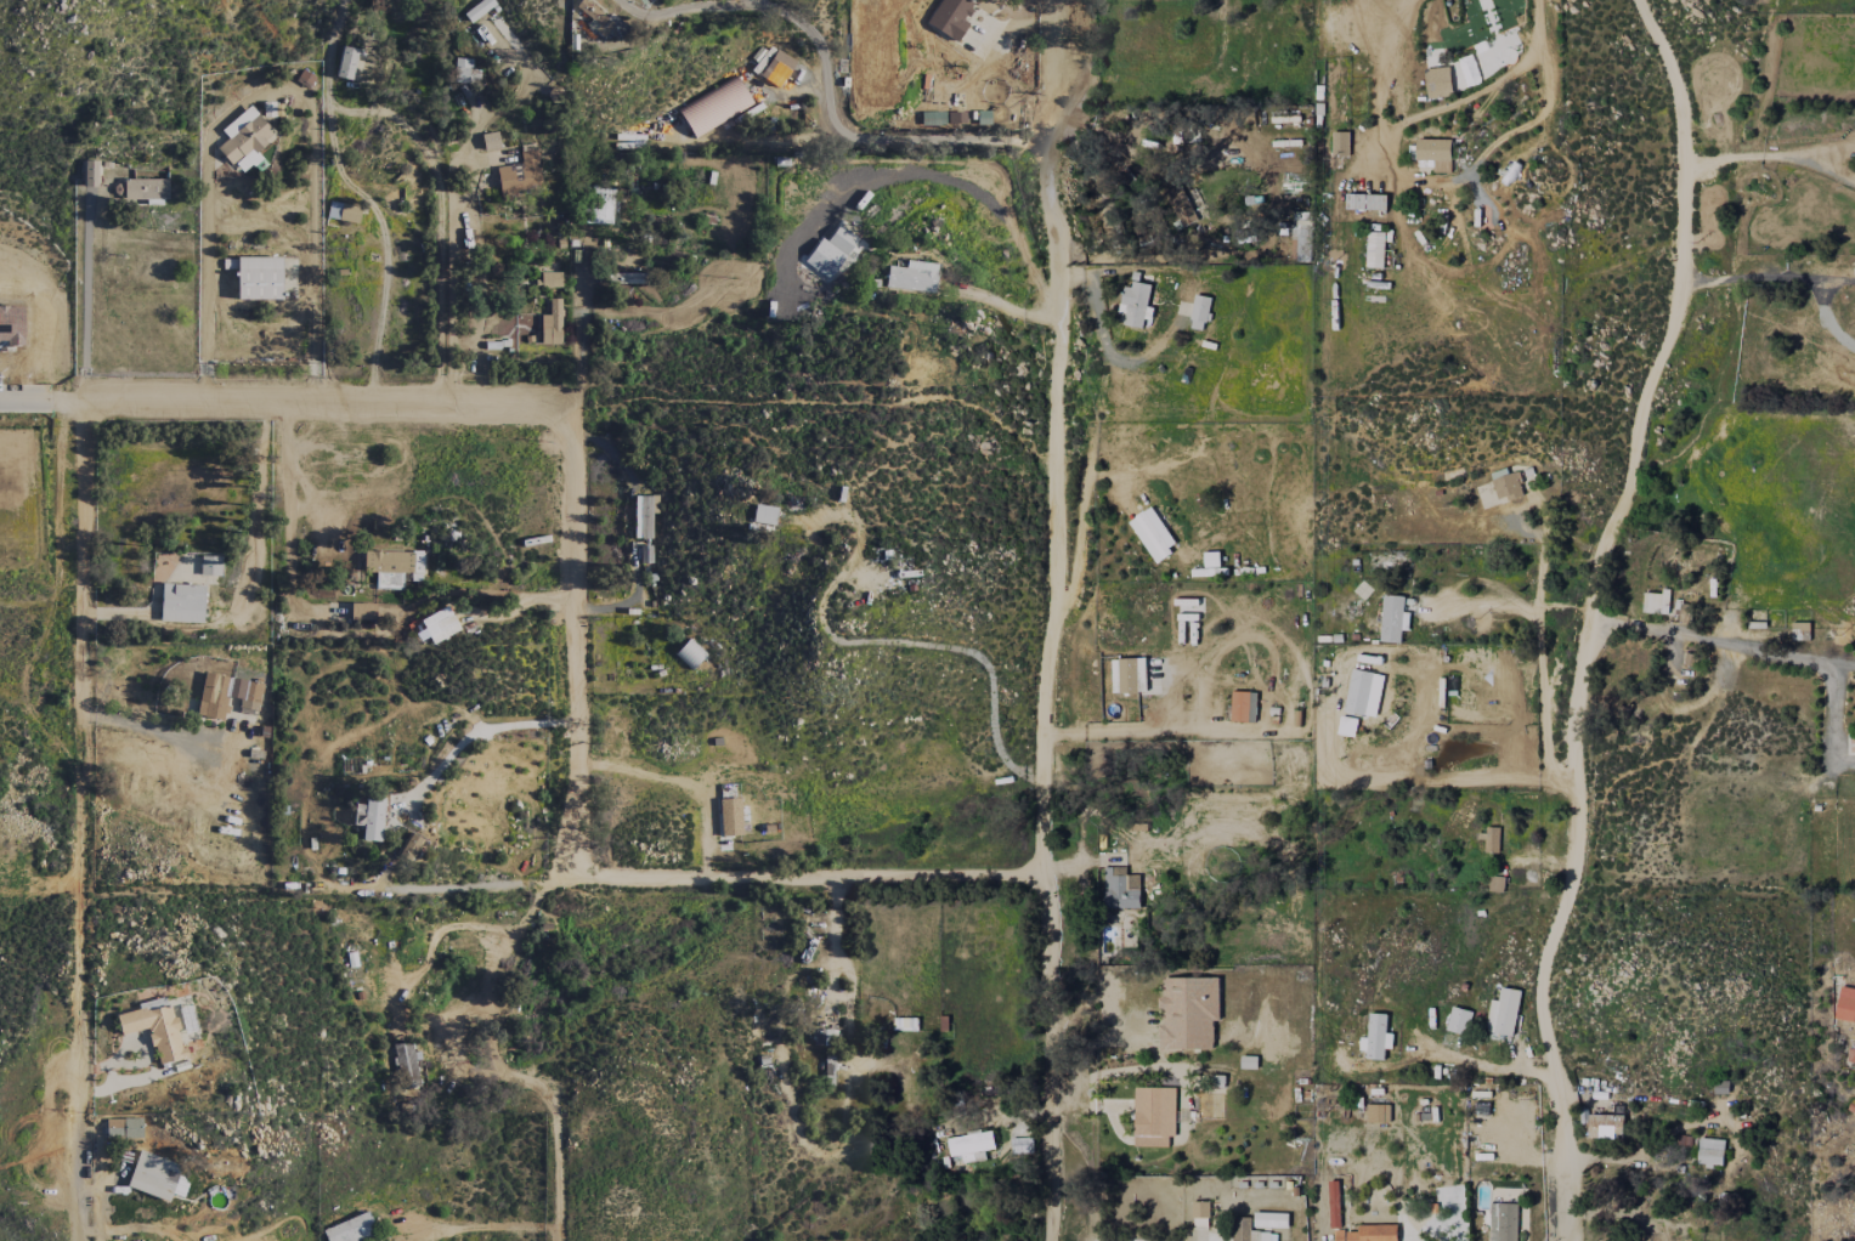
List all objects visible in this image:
building: (479, 10)
building: (950, 17)
building: (600, 19)
road: (1537, 24)
building: (346, 63)
building: (776, 68)
building: (464, 72)
building: (1437, 81)
road: (825, 83)
road: (268, 89)
building: (714, 107)
building: (932, 118)
building: (1181, 130)
building: (244, 140)
building: (1340, 143)
building: (1436, 153)
road: (1771, 154)
road: (434, 166)
building: (91, 174)
building: (520, 175)
road: (1408, 175)
building: (146, 188)
road: (980, 195)
building: (1365, 200)
building: (599, 205)
building: (1186, 205)
building: (343, 212)
building: (1299, 236)
building: (842, 239)
road: (383, 248)
building: (912, 277)
road: (1764, 277)
building: (259, 278)
building: (630, 278)
building: (550, 279)
building: (1136, 302)
road: (1007, 306)
building: (1199, 312)
building: (552, 323)
road: (878, 380)
road: (40, 401)
road: (327, 403)
building: (1506, 486)
building: (764, 515)
building: (643, 517)
road: (287, 518)
building: (1152, 533)
building: (210, 566)
building: (392, 567)
road: (511, 596)
building: (1655, 602)
building: (181, 603)
building: (362, 612)
road: (1585, 613)
road: (140, 614)
building: (1393, 617)
road: (1053, 619)
building: (440, 625)
building: (1799, 630)
road: (1703, 635)
road: (578, 645)
road: (941, 646)
road: (1543, 651)
building: (689, 654)
road: (1838, 663)
building: (1129, 675)
building: (1363, 692)
building: (226, 695)
building: (1243, 705)
road: (1831, 718)
road: (78, 719)
building: (1347, 725)
road: (480, 730)
road: (1156, 730)
road: (682, 781)
road: (1421, 782)
building: (729, 817)
building: (369, 818)
building: (1492, 839)
building: (411, 846)
road: (1119, 858)
road: (804, 879)
building: (1495, 883)
building: (1119, 889)
building: (1845, 1004)
building: (1503, 1011)
building: (1188, 1013)
building: (1458, 1020)
building: (154, 1027)
building: (1376, 1037)
building: (1851, 1055)
building: (1249, 1061)
building: (406, 1065)
road: (1480, 1067)
building: (1378, 1112)
road: (553, 1113)
building: (1154, 1115)
building: (1606, 1126)
building: (124, 1128)
road: (75, 1138)
building: (971, 1145)
building: (1709, 1151)
building: (157, 1177)
building: (1334, 1205)
building: (1200, 1213)
building: (1503, 1222)
building: (350, 1229)
building: (1242, 1229)
building: (1368, 1232)

